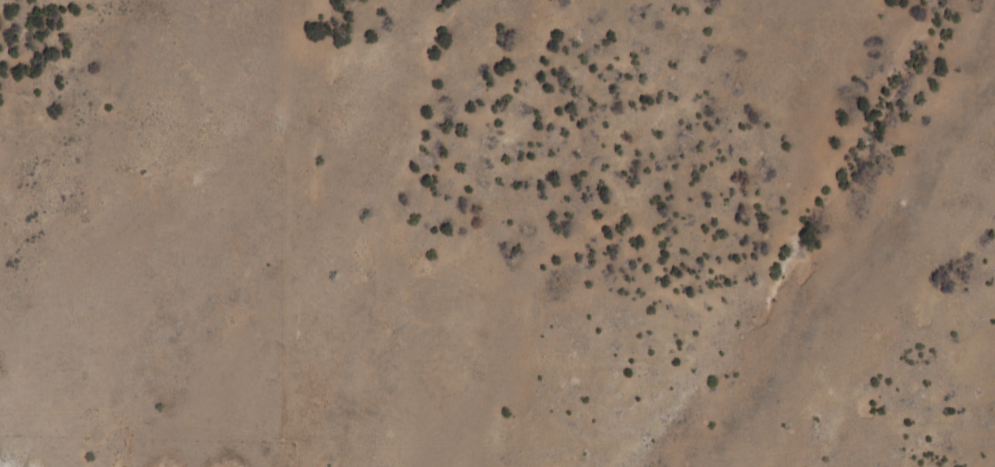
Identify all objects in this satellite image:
road: (845, 181)
road: (123, 451)

